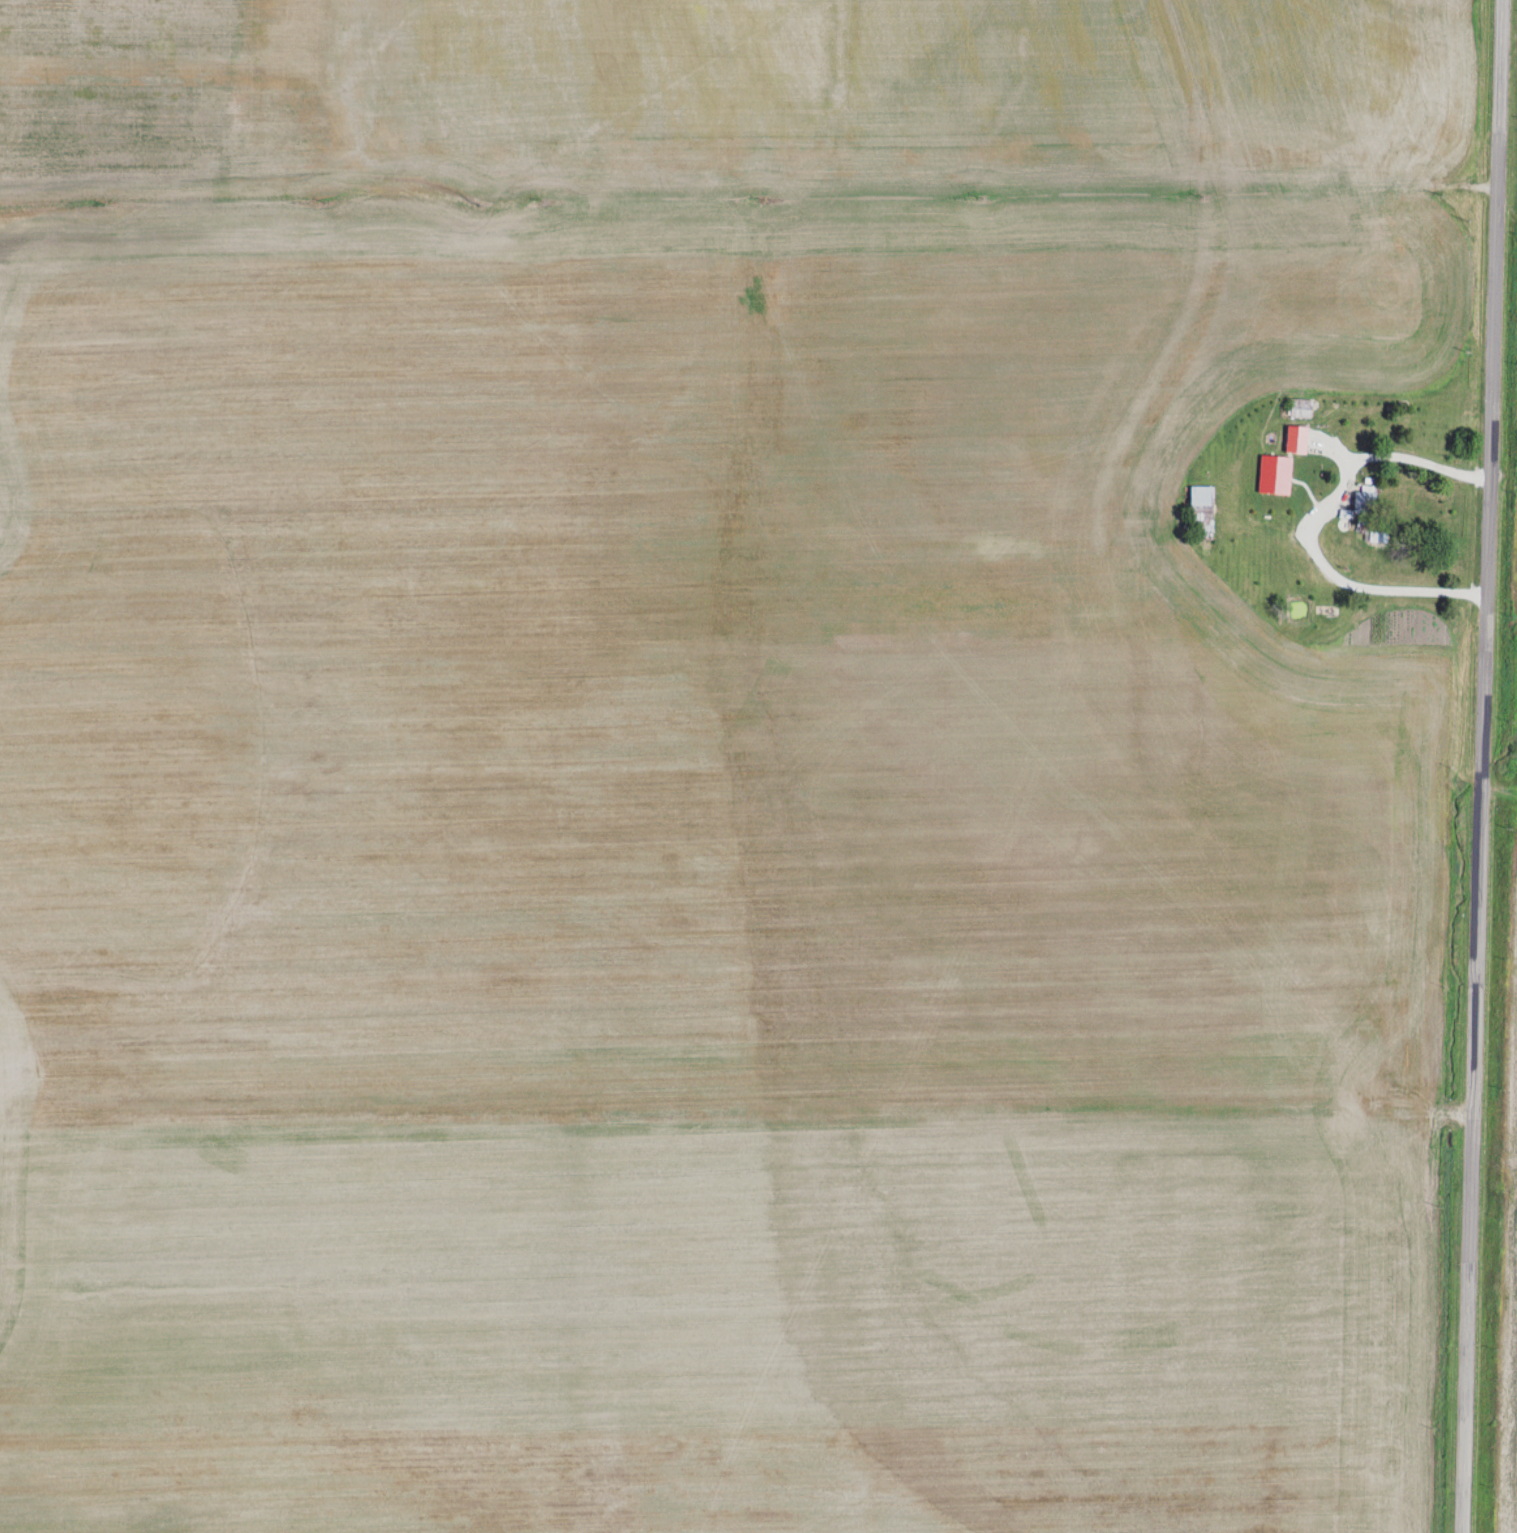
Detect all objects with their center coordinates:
road: (1182, 191)
building: (1300, 408)
building: (1431, 435)
building: (1279, 498)
building: (1363, 498)
building: (1202, 507)
road: (1338, 583)
road: (963, 630)
road: (1481, 766)

